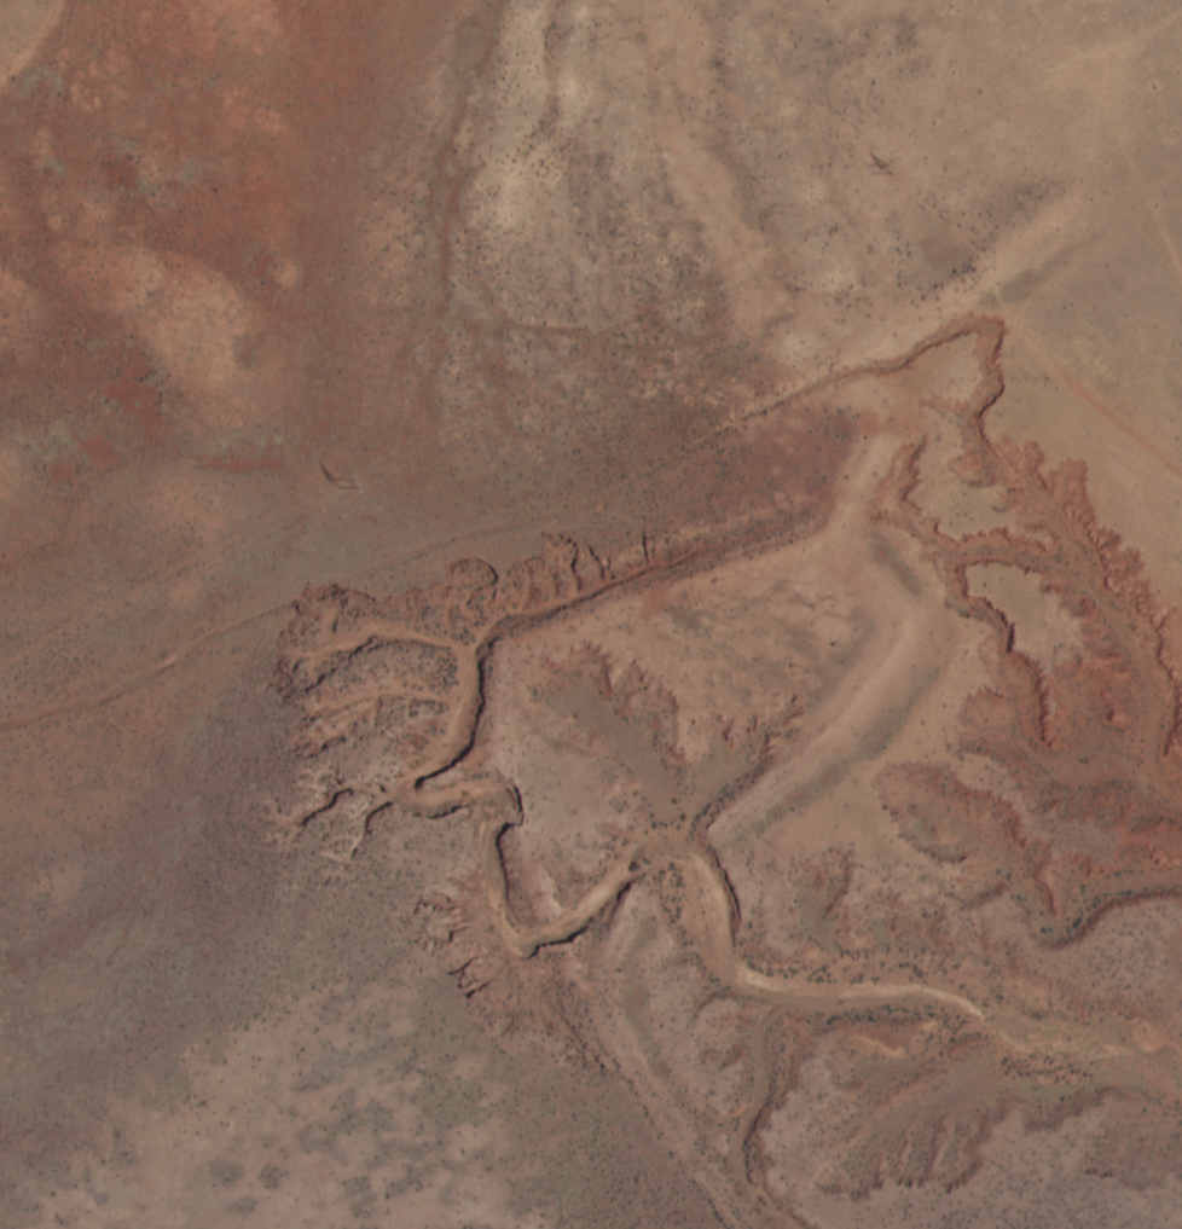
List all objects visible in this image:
road: (946, 297)

